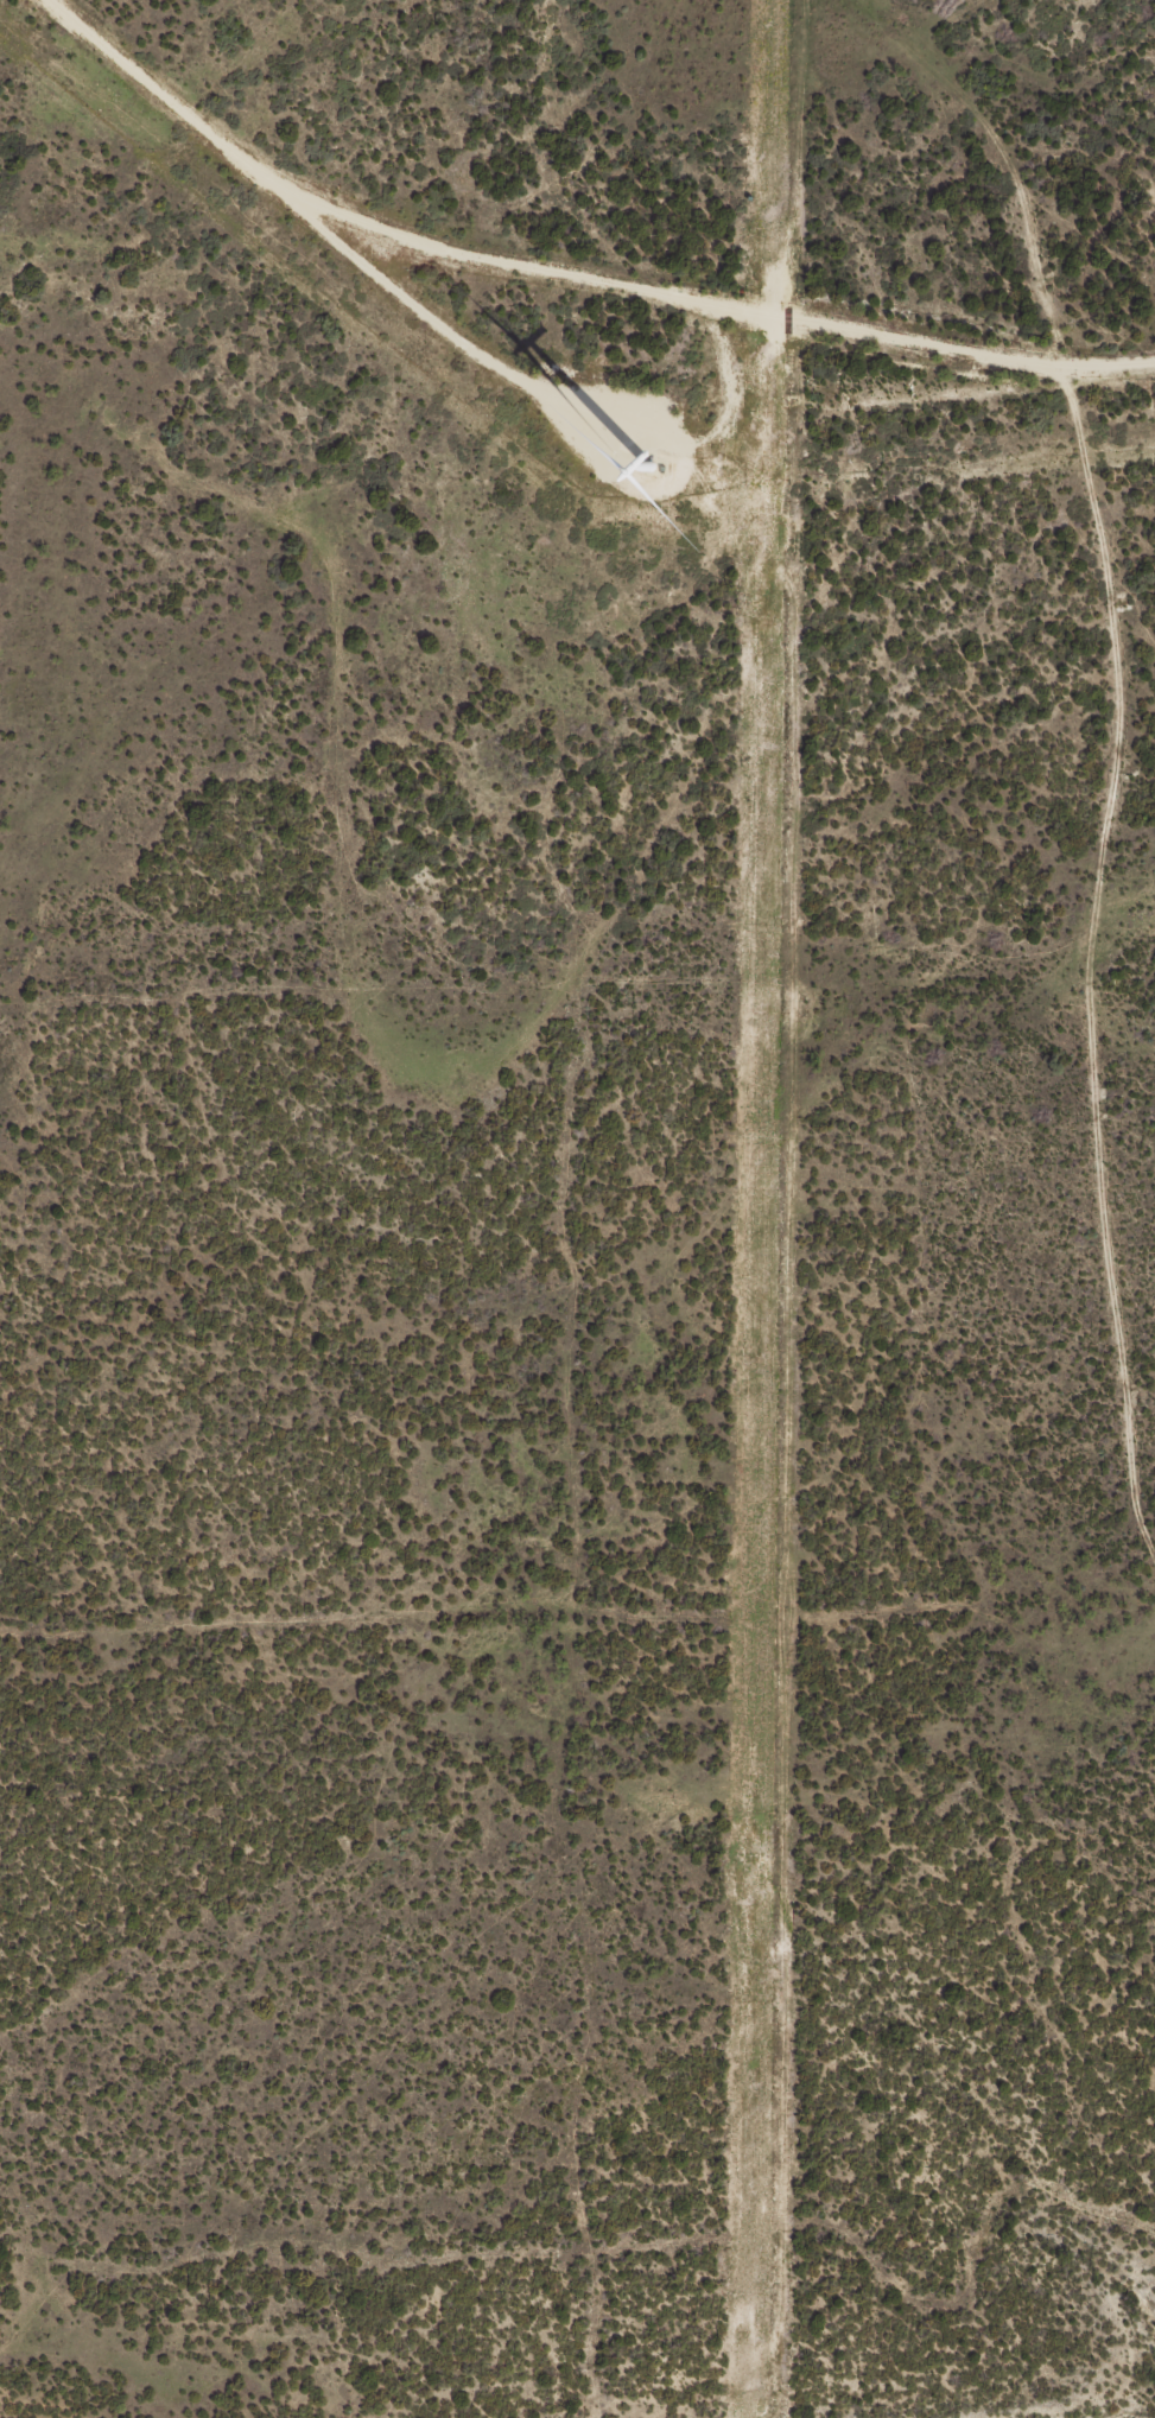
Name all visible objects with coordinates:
wind turbine: (673, 434)
road: (1072, 716)
road: (578, 1789)

